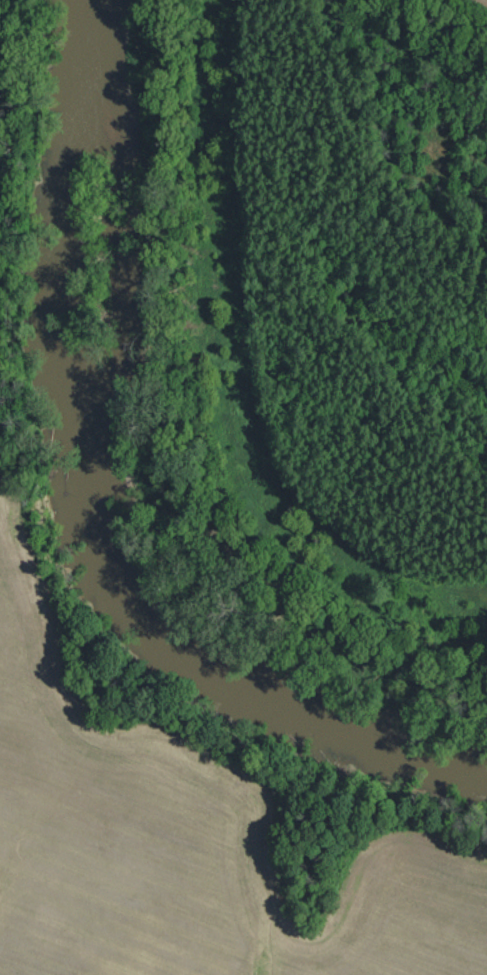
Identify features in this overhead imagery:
river: (88, 507)

